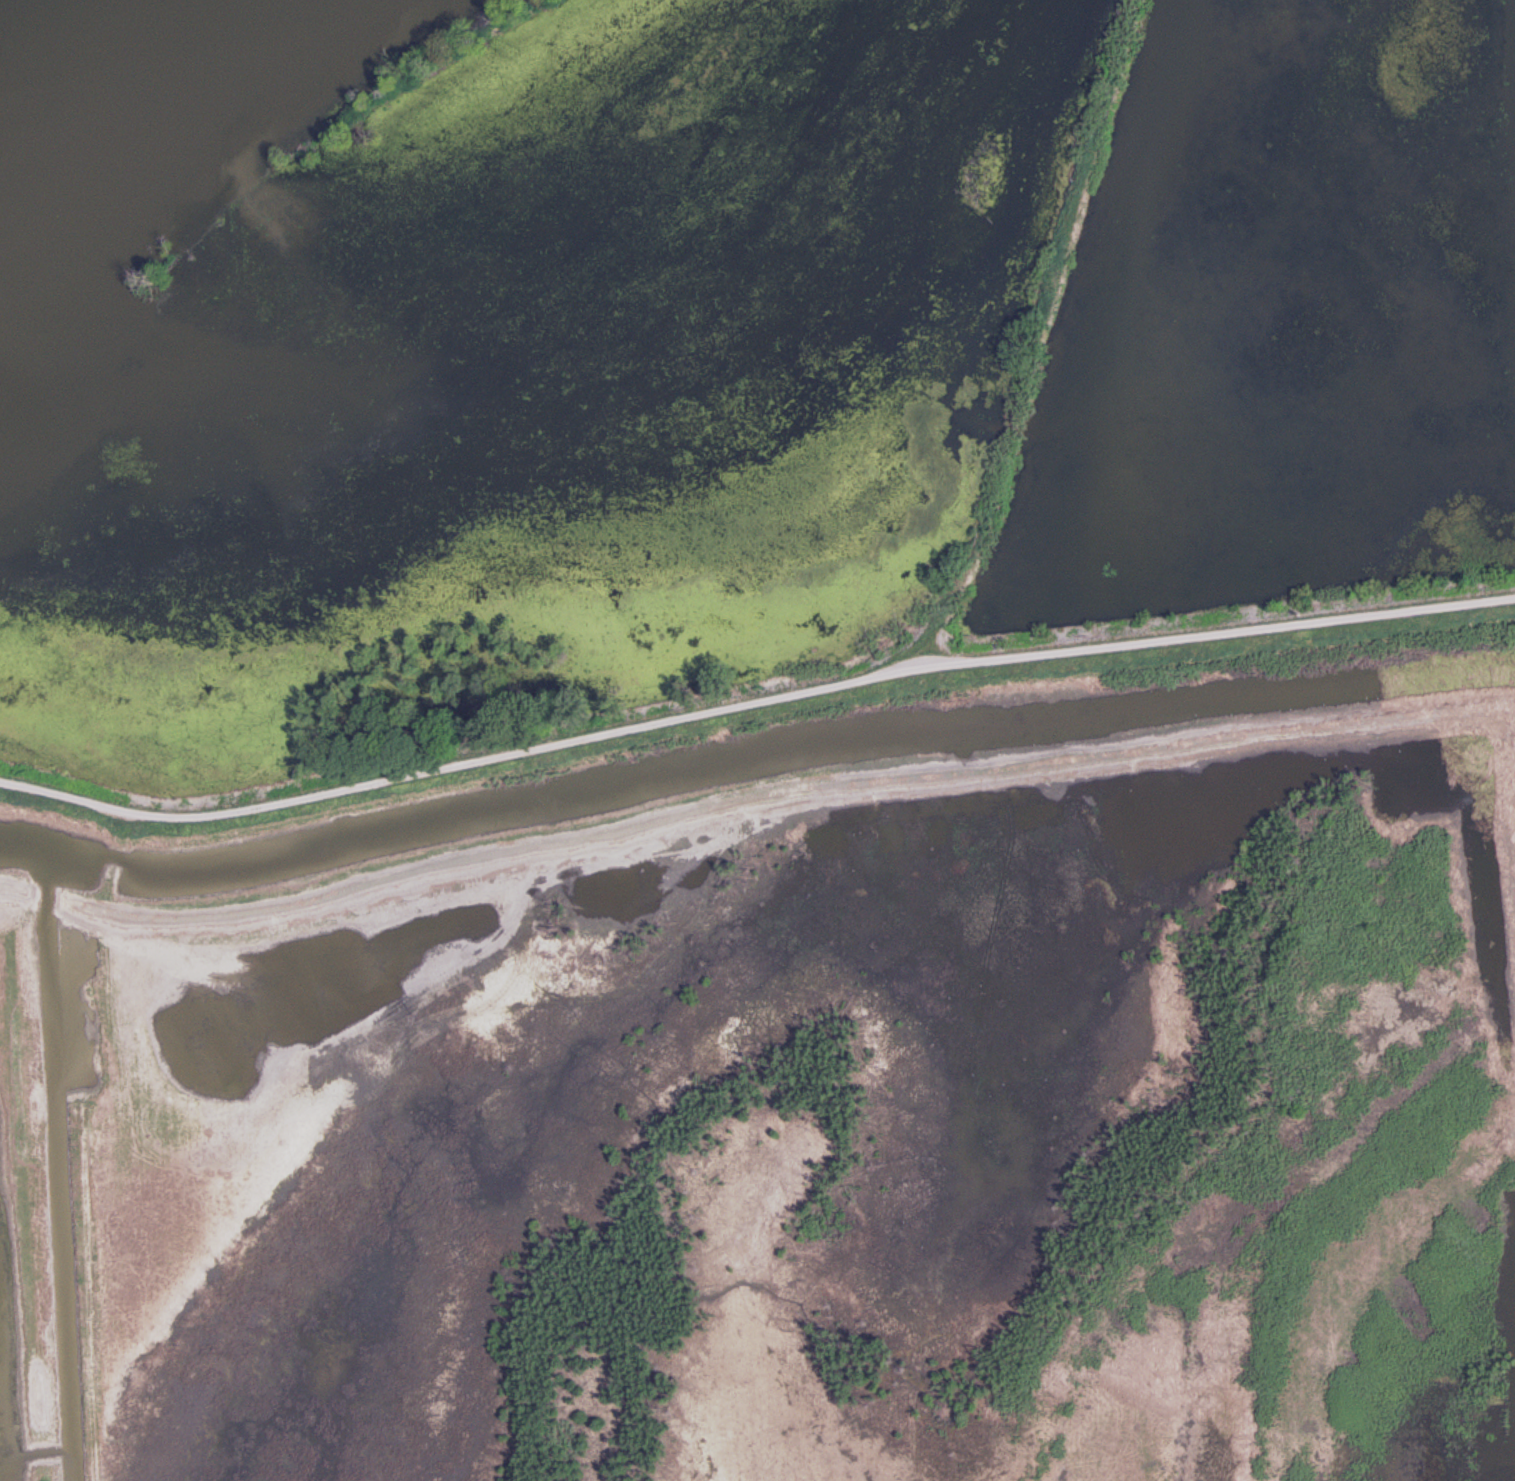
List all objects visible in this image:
road: (798, 691)

